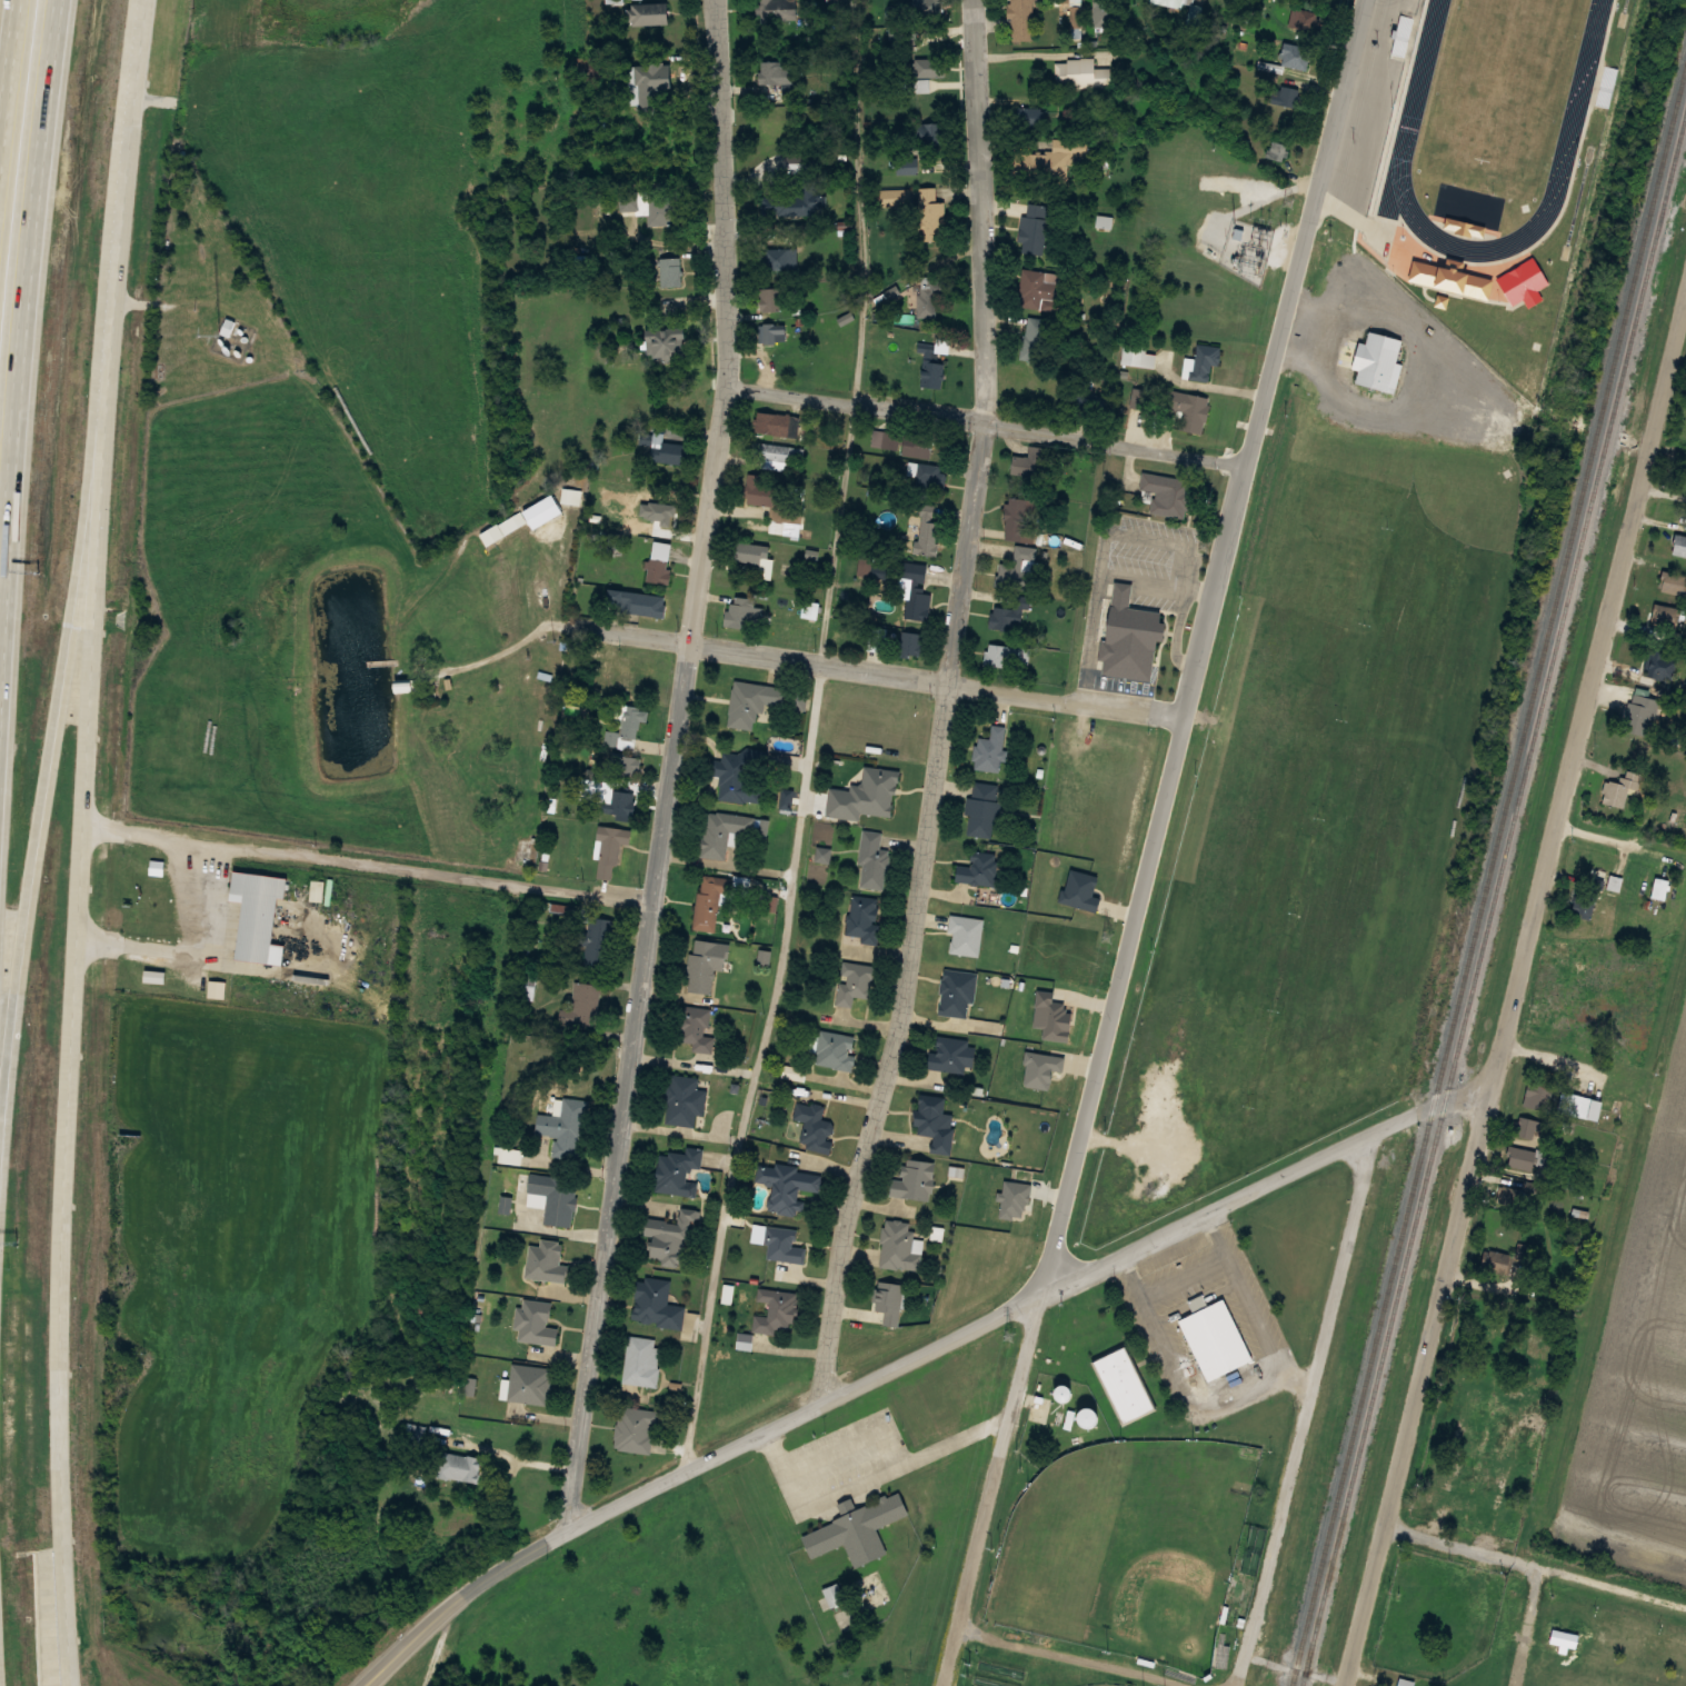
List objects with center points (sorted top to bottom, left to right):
building: (836, 1)
building: (1170, 2)
building: (929, 8)
building: (778, 10)
building: (1100, 11)
building: (1075, 12)
building: (649, 13)
building: (1020, 20)
road: (1233, 33)
power tower: (1338, 37)
building: (1294, 53)
building: (929, 67)
building: (1080, 73)
building: (777, 74)
building: (655, 79)
track: (1582, 81)
road: (10, 100)
building: (1029, 116)
building: (778, 131)
building: (1047, 160)
building: (907, 166)
power tower: (1290, 201)
building: (776, 203)
building: (649, 206)
building: (1467, 213)
building: (930, 217)
building: (1034, 228)
power substation: (1248, 243)
crop: (361, 247)
building: (778, 259)
building: (669, 272)
building: (1453, 282)
building: (1526, 285)
building: (1039, 288)
building: (769, 300)
road: (22, 316)
road: (1684, 325)
building: (770, 332)
building: (1034, 338)
building: (667, 346)
building: (1137, 356)
building: (1205, 361)
building: (1376, 361)
building: (931, 373)
building: (1091, 401)
building: (1188, 409)
road: (986, 421)
building: (776, 425)
building: (902, 442)
building: (662, 449)
building: (771, 456)
building: (1030, 461)
building: (931, 478)
crop: (242, 482)
building: (766, 493)
building: (1168, 493)
building: (531, 517)
building: (666, 518)
building: (1020, 519)
building: (927, 531)
building: (1678, 545)
power tower: (1204, 546)
building: (751, 551)
building: (1018, 563)
building: (868, 569)
building: (657, 571)
building: (1673, 583)
building: (636, 603)
building: (809, 610)
building: (742, 612)
building: (1012, 616)
building: (1666, 616)
building: (1128, 636)
building: (877, 639)
building: (911, 644)
road: (1201, 647)
building: (1007, 656)
building: (1662, 664)
road: (870, 675)
building: (627, 677)
building: (405, 686)
building: (751, 704)
road: (940, 707)
crop: (247, 709)
building: (1639, 714)
building: (628, 727)
road: (54, 729)
road: (807, 741)
building: (990, 751)
road: (670, 764)
building: (623, 765)
building: (737, 777)
building: (1618, 788)
building: (870, 795)
building: (618, 802)
building: (982, 810)
building: (721, 832)
road: (1610, 840)
road: (83, 841)
building: (609, 849)
building: (153, 862)
building: (872, 862)
building: (978, 870)
railway: (1488, 877)
road: (528, 885)
building: (1589, 894)
railway: (1493, 897)
building: (711, 901)
building: (259, 917)
building: (862, 920)
power tower: (1113, 930)
building: (965, 936)
building: (600, 942)
building: (705, 965)
building: (854, 984)
building: (956, 994)
road: (1514, 997)
building: (587, 1005)
building: (697, 1030)
building: (836, 1051)
building: (948, 1055)
road: (1554, 1059)
building: (794, 1074)
building: (685, 1101)
building: (1580, 1106)
building: (936, 1125)
building: (814, 1128)
building: (1529, 1128)
building: (567, 1129)
building: (1519, 1158)
building: (678, 1173)
building: (914, 1180)
building: (788, 1186)
building: (1507, 1196)
building: (555, 1198)
building: (670, 1243)
building: (782, 1247)
building: (898, 1247)
crop: (227, 1255)
building: (1495, 1260)
building: (547, 1263)
building: (888, 1303)
building: (656, 1305)
building: (776, 1313)
building: (537, 1324)
power tower: (1012, 1328)
building: (1211, 1337)
road: (912, 1360)
building: (642, 1361)
crop: (1643, 1383)
building: (530, 1385)
road: (1307, 1409)
building: (636, 1430)
building: (413, 1434)
building: (458, 1467)
road: (992, 1490)
building: (859, 1530)
road: (1461, 1545)
park: (1129, 1547)
park: (1125, 1557)
building: (834, 1596)
road: (1532, 1626)
building: (1564, 1638)
road: (1086, 1656)
road: (1298, 1670)
park: (1100, 1684)

